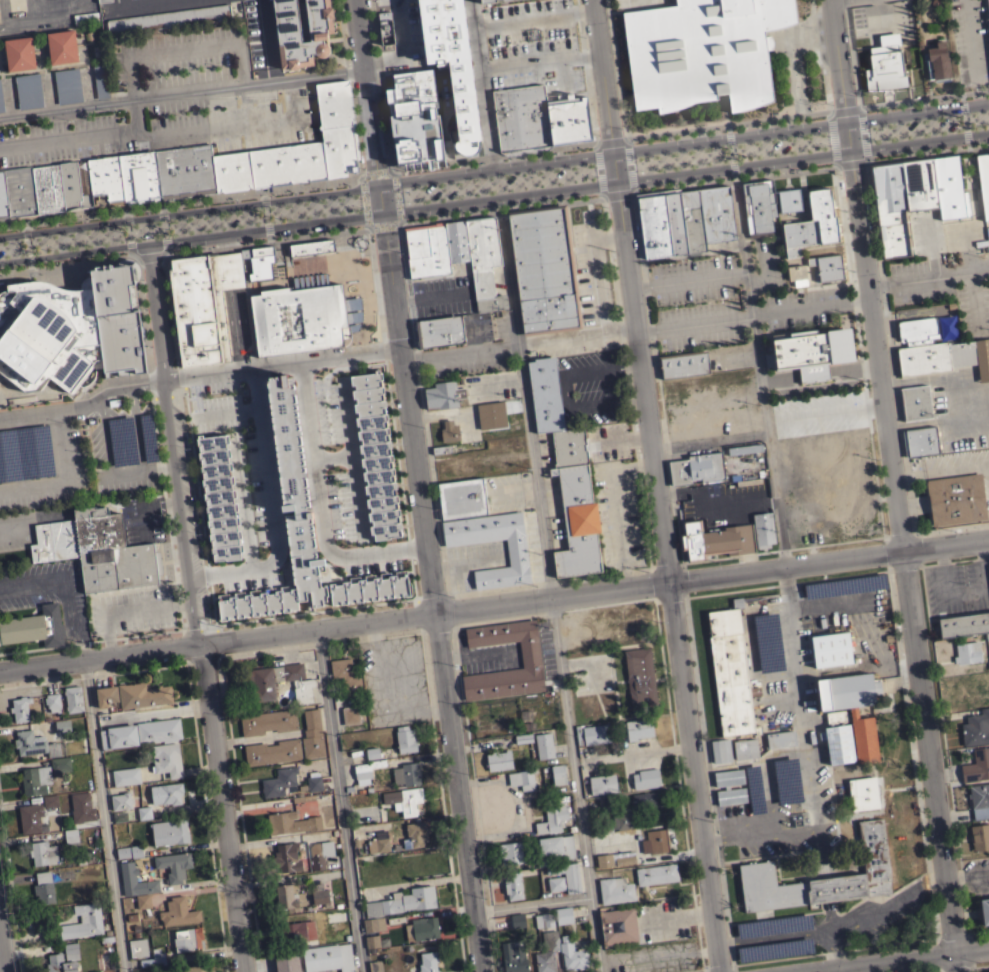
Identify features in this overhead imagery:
building: (466, 0)
building: (505, 0)
building: (103, 1)
building: (486, 1)
parking lot: (641, 1)
building: (988, 6)
road: (44, 12)
parking lot: (881, 16)
building: (433, 17)
building: (168, 19)
building: (385, 28)
building: (288, 36)
road: (263, 39)
road: (969, 39)
parking lot: (970, 40)
building: (62, 47)
road: (401, 48)
building: (703, 52)
building: (19, 54)
building: (885, 61)
building: (937, 62)
building: (100, 81)
road: (481, 83)
building: (67, 85)
parking lot: (54, 88)
building: (28, 91)
road: (976, 91)
road: (181, 92)
road: (924, 97)
building: (1, 100)
road: (844, 109)
building: (414, 120)
building: (538, 120)
road: (963, 120)
road: (727, 123)
parking lot: (929, 124)
building: (337, 125)
parking lot: (170, 128)
road: (164, 130)
road: (862, 131)
road: (831, 137)
road: (611, 139)
road: (730, 147)
parking lot: (731, 150)
road: (928, 150)
road: (494, 159)
road: (851, 160)
road: (629, 162)
building: (269, 165)
road: (494, 167)
road: (598, 167)
building: (185, 171)
road: (376, 172)
road: (734, 175)
building: (123, 178)
building: (983, 179)
parking lot: (497, 181)
building: (920, 183)
building: (72, 187)
building: (950, 187)
building: (48, 190)
road: (618, 190)
building: (20, 193)
road: (395, 195)
road: (494, 195)
road: (363, 198)
building: (3, 199)
road: (180, 200)
building: (789, 200)
building: (758, 204)
building: (889, 207)
road: (501, 208)
building: (716, 213)
road: (265, 215)
road: (501, 217)
building: (692, 220)
road: (382, 221)
building: (674, 221)
building: (653, 224)
building: (812, 224)
road: (162, 225)
road: (127, 229)
road: (264, 240)
road: (27, 243)
building: (311, 248)
building: (435, 248)
road: (147, 251)
building: (257, 252)
road: (65, 260)
building: (484, 261)
building: (828, 267)
building: (544, 269)
road: (766, 272)
building: (796, 272)
road: (928, 275)
road: (688, 278)
building: (800, 282)
building: (1, 284)
parking lot: (946, 290)
road: (429, 297)
parking lot: (730, 297)
building: (203, 305)
road: (394, 305)
road: (751, 313)
building: (299, 317)
building: (71, 329)
building: (917, 329)
building: (439, 331)
road: (575, 336)
road: (457, 352)
building: (812, 352)
building: (943, 356)
building: (683, 364)
road: (757, 370)
road: (196, 371)
building: (443, 394)
building: (545, 394)
building: (916, 402)
road: (226, 409)
road: (448, 412)
building: (491, 415)
building: (449, 431)
building: (143, 436)
building: (118, 440)
road: (169, 441)
building: (920, 441)
parking lot: (948, 442)
building: (569, 446)
building: (441, 449)
building: (24, 452)
building: (375, 455)
parking lot: (75, 459)
road: (156, 465)
building: (696, 468)
road: (128, 474)
road: (59, 475)
road: (893, 485)
road: (655, 486)
building: (746, 488)
building: (218, 497)
building: (461, 497)
building: (956, 499)
road: (322, 500)
road: (714, 502)
road: (242, 504)
road: (269, 505)
road: (617, 509)
building: (576, 522)
building: (302, 525)
building: (763, 529)
building: (715, 540)
building: (54, 541)
building: (111, 553)
building: (517, 556)
building: (988, 567)
road: (30, 585)
road: (549, 599)
building: (761, 599)
road: (494, 604)
road: (71, 620)
building: (963, 623)
building: (34, 627)
building: (987, 636)
building: (763, 641)
building: (831, 649)
building: (968, 652)
building: (530, 657)
building: (889, 666)
building: (730, 671)
building: (345, 676)
building: (640, 679)
road: (797, 679)
building: (261, 683)
building: (142, 694)
building: (106, 695)
building: (73, 698)
building: (52, 702)
building: (20, 708)
building: (848, 714)
building: (350, 715)
building: (268, 722)
building: (61, 725)
building: (776, 726)
building: (639, 728)
building: (976, 728)
building: (159, 730)
building: (312, 734)
building: (596, 734)
building: (118, 736)
building: (523, 738)
building: (405, 739)
building: (34, 744)
building: (544, 745)
building: (747, 748)
building: (721, 750)
building: (272, 752)
building: (372, 753)
building: (166, 759)
building: (499, 760)
building: (60, 764)
building: (976, 766)
building: (366, 770)
building: (558, 773)
building: (406, 775)
building: (126, 776)
building: (729, 777)
building: (646, 778)
building: (522, 779)
building: (35, 780)
building: (279, 781)
building: (314, 781)
building: (603, 784)
building: (855, 789)
road: (457, 792)
building: (166, 793)
building: (731, 796)
road: (338, 799)
building: (647, 799)
building: (50, 800)
building: (404, 800)
building: (979, 800)
building: (121, 801)
building: (604, 804)
road: (221, 806)
building: (82, 807)
building: (144, 812)
road: (103, 815)
building: (119, 816)
building: (30, 817)
building: (552, 819)
building: (624, 820)
building: (291, 822)
building: (169, 832)
building: (415, 834)
building: (980, 836)
building: (71, 837)
building: (657, 841)
building: (378, 844)
building: (557, 846)
building: (324, 848)
building: (129, 851)
building: (43, 853)
building: (512, 853)
building: (316, 856)
building: (287, 857)
building: (615, 858)
building: (174, 865)
building: (756, 869)
building: (656, 874)
building: (135, 880)
building: (556, 883)
building: (572, 883)
building: (513, 885)
building: (43, 887)
building: (615, 890)
building: (319, 894)
building: (288, 897)
building: (143, 901)
building: (403, 901)
road: (531, 903)
road: (872, 908)
building: (984, 910)
building: (178, 912)
building: (563, 915)
building: (517, 920)
building: (544, 920)
building: (83, 921)
building: (373, 924)
building: (618, 925)
building: (425, 927)
building: (297, 931)
road: (773, 935)
building: (187, 939)
building: (372, 941)
building: (138, 947)
building: (71, 951)
building: (547, 952)
building: (572, 955)
building: (328, 957)
building: (514, 957)
road: (1, 958)
building: (154, 959)
road: (887, 959)
building: (428, 962)
building: (285, 963)
building: (60, 964)
building: (375, 966)
building: (194, 968)
road: (836, 969)

